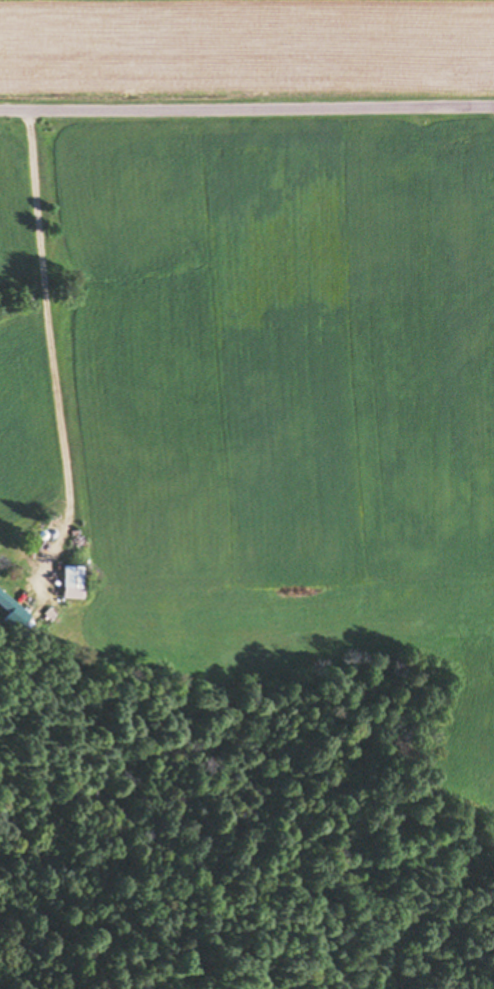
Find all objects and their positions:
road: (247, 106)
building: (70, 577)
building: (5, 604)

